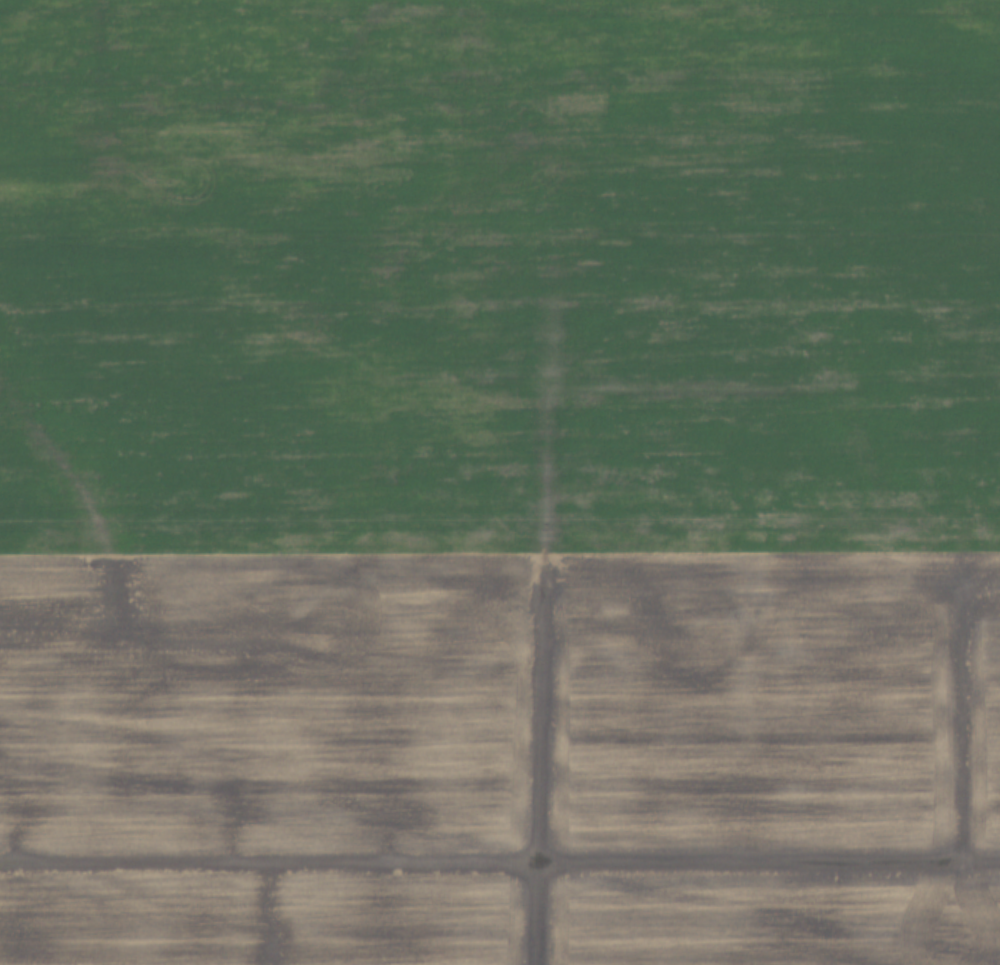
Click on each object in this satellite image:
crop: (500, 482)

